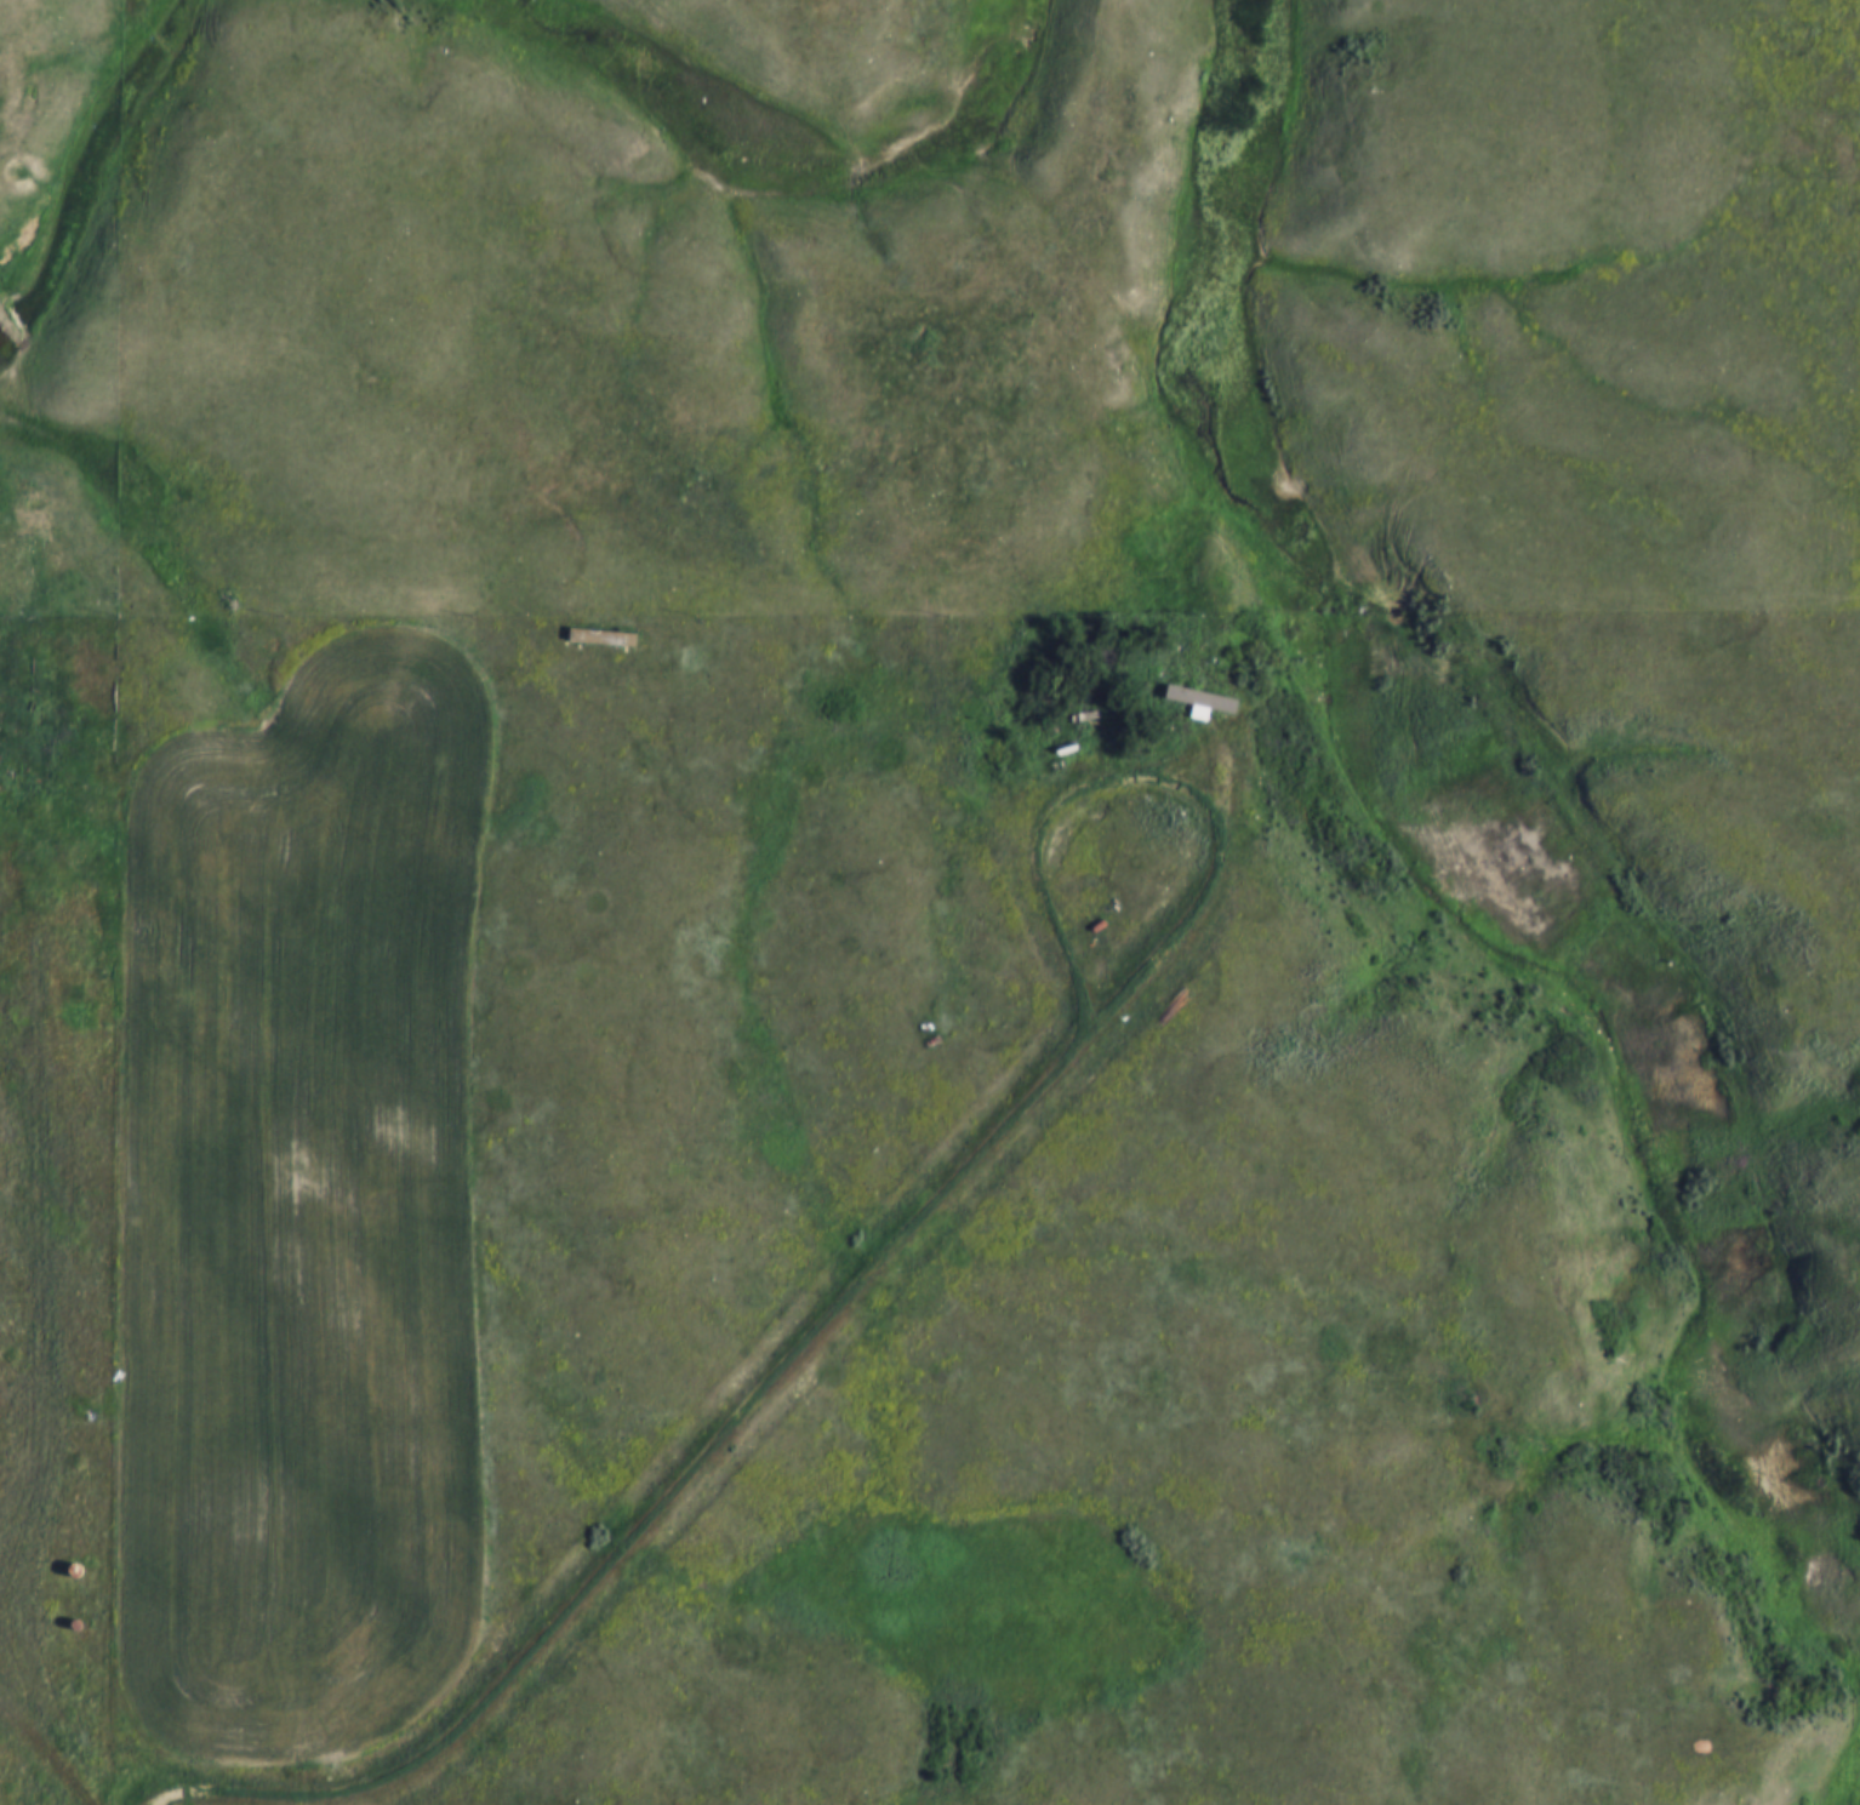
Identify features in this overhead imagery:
building: (599, 636)
building: (1198, 701)
road: (1151, 783)
road: (666, 1504)
road: (45, 1755)

